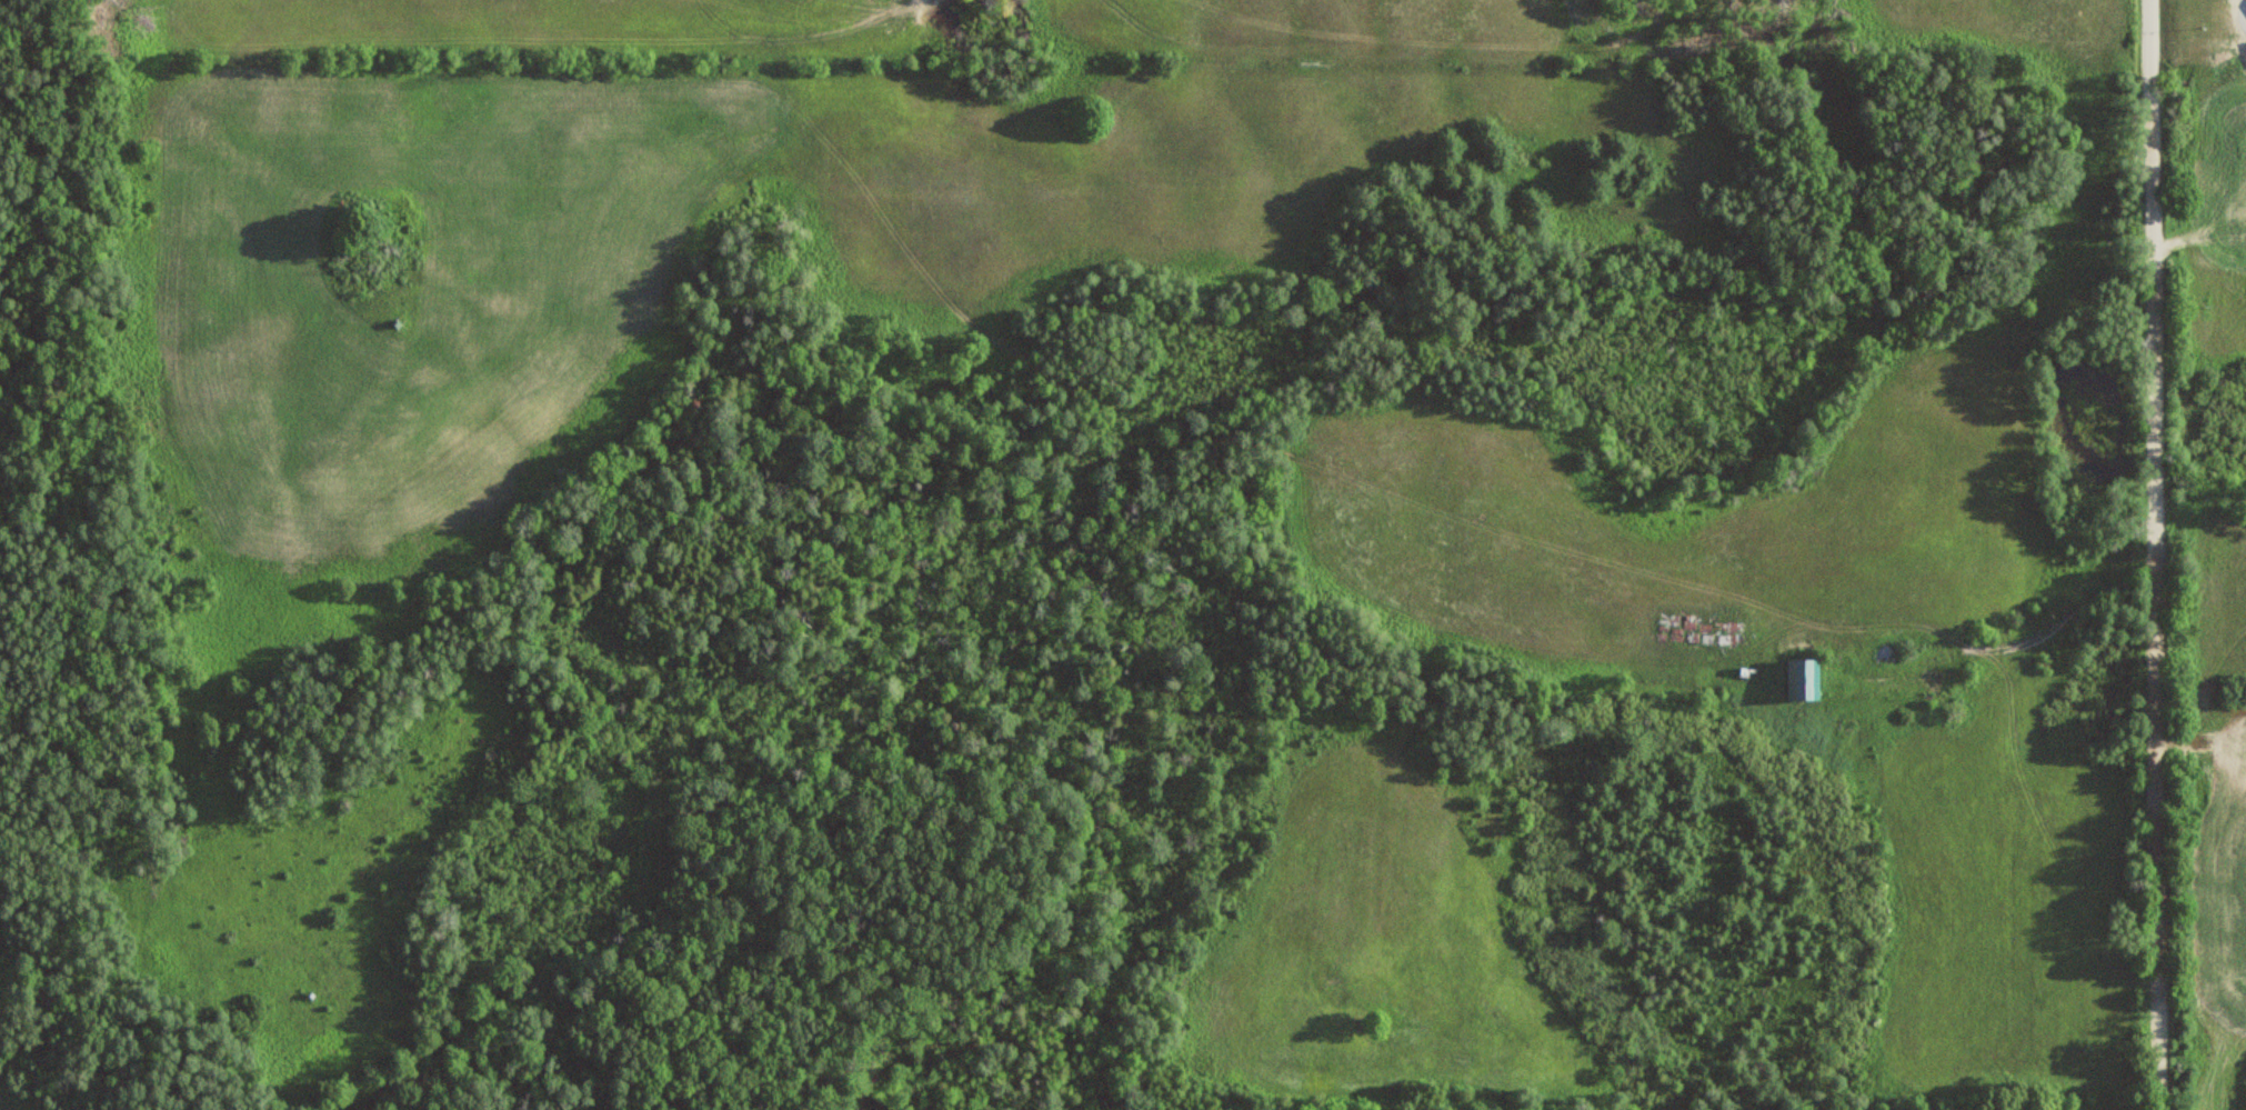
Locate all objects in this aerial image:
road: (2150, 554)
building: (1805, 678)

